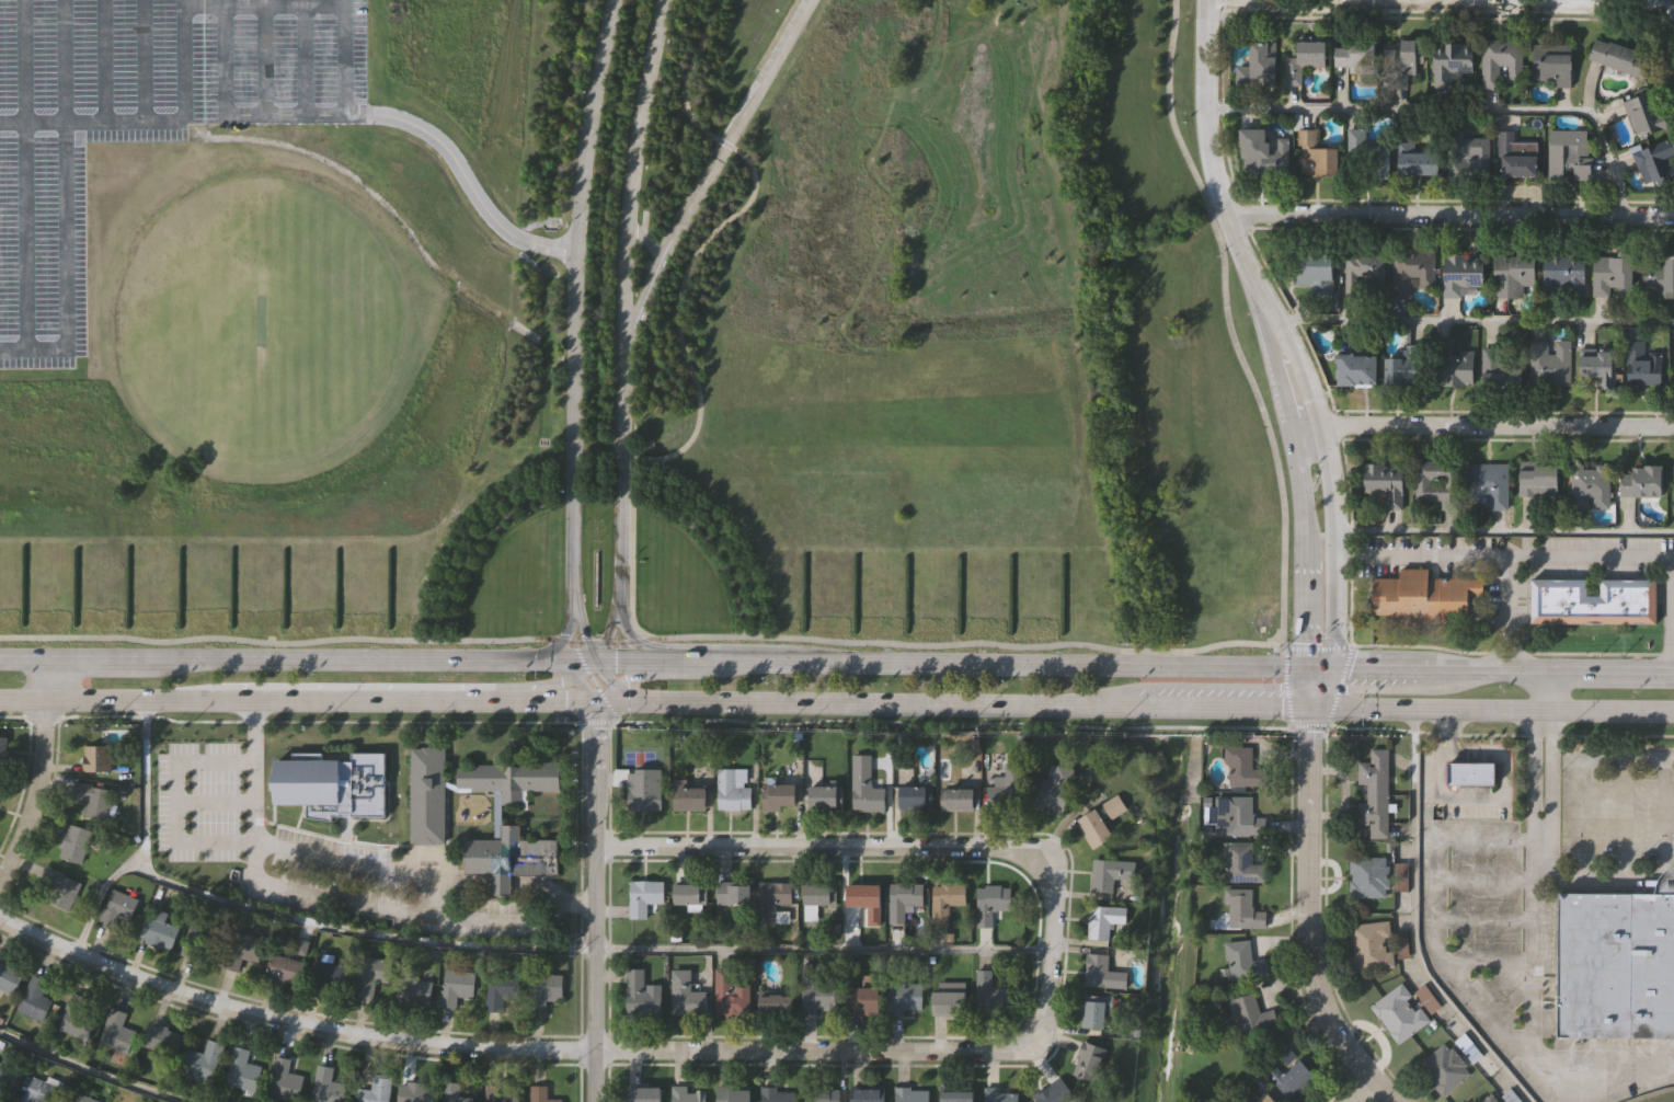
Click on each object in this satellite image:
road: (225, 2)
road: (264, 2)
road: (265, 3)
road: (1442, 7)
road: (776, 34)
parking lot: (779, 41)
building: (1358, 57)
building: (1621, 57)
road: (305, 58)
road: (265, 59)
road: (102, 60)
road: (144, 60)
road: (184, 60)
building: (1306, 60)
building: (1454, 60)
building: (1403, 61)
building: (1502, 61)
building: (1553, 64)
building: (1261, 65)
road: (686, 73)
road: (1449, 111)
road: (231, 114)
building: (1647, 114)
road: (92, 120)
parking lot: (137, 120)
road: (428, 135)
road: (725, 144)
building: (1268, 154)
building: (1469, 154)
building: (1571, 154)
building: (1317, 156)
building: (1517, 156)
building: (1368, 157)
building: (1656, 161)
building: (1422, 162)
road: (711, 170)
road: (24, 175)
road: (62, 207)
road: (1452, 216)
road: (1229, 218)
road: (643, 240)
building: (1367, 266)
building: (1315, 269)
building: (1414, 271)
building: (1566, 272)
building: (1613, 272)
building: (1464, 273)
building: (1514, 273)
building: (1660, 273)
road: (573, 306)
road: (620, 307)
park: (260, 320)
road: (1474, 322)
building: (1551, 361)
building: (1643, 364)
building: (1406, 365)
building: (1458, 366)
building: (1503, 366)
building: (1600, 366)
building: (1358, 370)
road: (699, 405)
road: (1490, 426)
building: (1540, 479)
building: (1440, 481)
building: (1643, 481)
building: (1491, 482)
building: (1387, 483)
road: (1299, 486)
building: (1591, 486)
flagpole: (597, 520)
flagpole: (596, 530)
road: (1504, 532)
flagpole: (596, 540)
road: (1503, 555)
road: (1333, 567)
road: (1506, 592)
building: (1403, 596)
building: (1454, 598)
building: (1590, 601)
road: (1305, 608)
road: (1673, 615)
traffic signals: (560, 635)
road: (559, 636)
road: (582, 636)
road: (605, 638)
road: (632, 638)
traffic signals: (583, 639)
road: (968, 643)
road: (1495, 647)
road: (1517, 648)
road: (569, 658)
road: (620, 658)
traffic signals: (647, 658)
road: (294, 662)
road: (21, 663)
road: (975, 663)
road: (1317, 666)
traffic signals: (1331, 666)
traffic signals: (1304, 667)
road: (1436, 667)
road: (559, 669)
road: (582, 669)
road: (1607, 669)
road: (604, 671)
road: (631, 671)
road: (47, 685)
road: (1277, 687)
road: (1306, 689)
road: (1543, 690)
road: (551, 691)
road: (583, 692)
road: (605, 695)
road: (628, 695)
traffic signals: (530, 703)
road: (562, 703)
road: (618, 703)
road: (482, 704)
traffic signals: (595, 704)
road: (975, 704)
road: (26, 707)
road: (243, 707)
traffic signals: (1309, 711)
road: (1425, 712)
road: (1608, 712)
road: (1543, 720)
building: (1, 750)
building: (95, 757)
road: (1624, 759)
building: (1242, 768)
building: (1468, 772)
road: (255, 774)
building: (508, 779)
building: (332, 785)
building: (864, 787)
building: (1005, 788)
building: (732, 789)
building: (1051, 790)
road: (31, 791)
building: (640, 793)
building: (1374, 793)
building: (425, 795)
building: (778, 796)
road: (1499, 796)
building: (824, 797)
building: (915, 797)
building: (93, 799)
building: (688, 799)
building: (956, 799)
road: (177, 804)
building: (1113, 806)
building: (495, 815)
building: (1234, 815)
road: (1541, 827)
building: (1093, 829)
road: (1483, 837)
building: (73, 842)
road: (909, 845)
building: (509, 858)
building: (1240, 863)
building: (1369, 874)
building: (1104, 875)
building: (1402, 875)
road: (1600, 880)
road: (1666, 881)
road: (462, 883)
road: (501, 884)
road: (539, 887)
building: (58, 888)
road: (300, 892)
building: (688, 893)
building: (732, 893)
building: (816, 894)
building: (862, 895)
building: (643, 896)
road: (98, 897)
building: (770, 898)
building: (904, 898)
building: (945, 899)
road: (595, 903)
building: (989, 903)
road: (1426, 905)
building: (116, 909)
building: (1240, 909)
road: (1308, 918)
building: (1103, 920)
road: (1413, 926)
building: (158, 928)
building: (1373, 943)
building: (195, 945)
building: (241, 949)
road: (508, 951)
building: (1242, 962)
building: (1617, 964)
building: (308, 972)
building: (1101, 973)
building: (368, 974)
building: (9, 977)
building: (456, 986)
building: (500, 987)
building: (542, 989)
building: (413, 990)
building: (988, 991)
building: (640, 994)
building: (685, 995)
building: (729, 996)
building: (904, 996)
building: (35, 998)
building: (817, 998)
building: (861, 1000)
building: (948, 1002)
building: (773, 1003)
building: (1094, 1011)
road: (1536, 1011)
building: (1400, 1012)
building: (79, 1014)
building: (1250, 1015)
building: (116, 1031)
building: (163, 1038)
building: (1470, 1046)
road: (508, 1048)
building: (203, 1059)
building: (1088, 1060)
building: (1445, 1067)
building: (241, 1069)
road: (87, 1071)
building: (1294, 1077)
building: (5, 1079)
building: (284, 1079)
building: (326, 1086)
building: (375, 1089)
building: (39, 1090)
building: (415, 1091)
road: (1357, 1091)
building: (465, 1092)
building: (504, 1092)
building: (1054, 1092)
building: (540, 1094)
building: (642, 1094)
building: (685, 1094)
building: (732, 1094)
building: (777, 1094)
building: (821, 1094)
building: (865, 1094)
building: (910, 1094)
building: (954, 1095)
building: (998, 1095)
building: (80, 1097)
building: (1266, 1098)
building: (1491, 1098)

